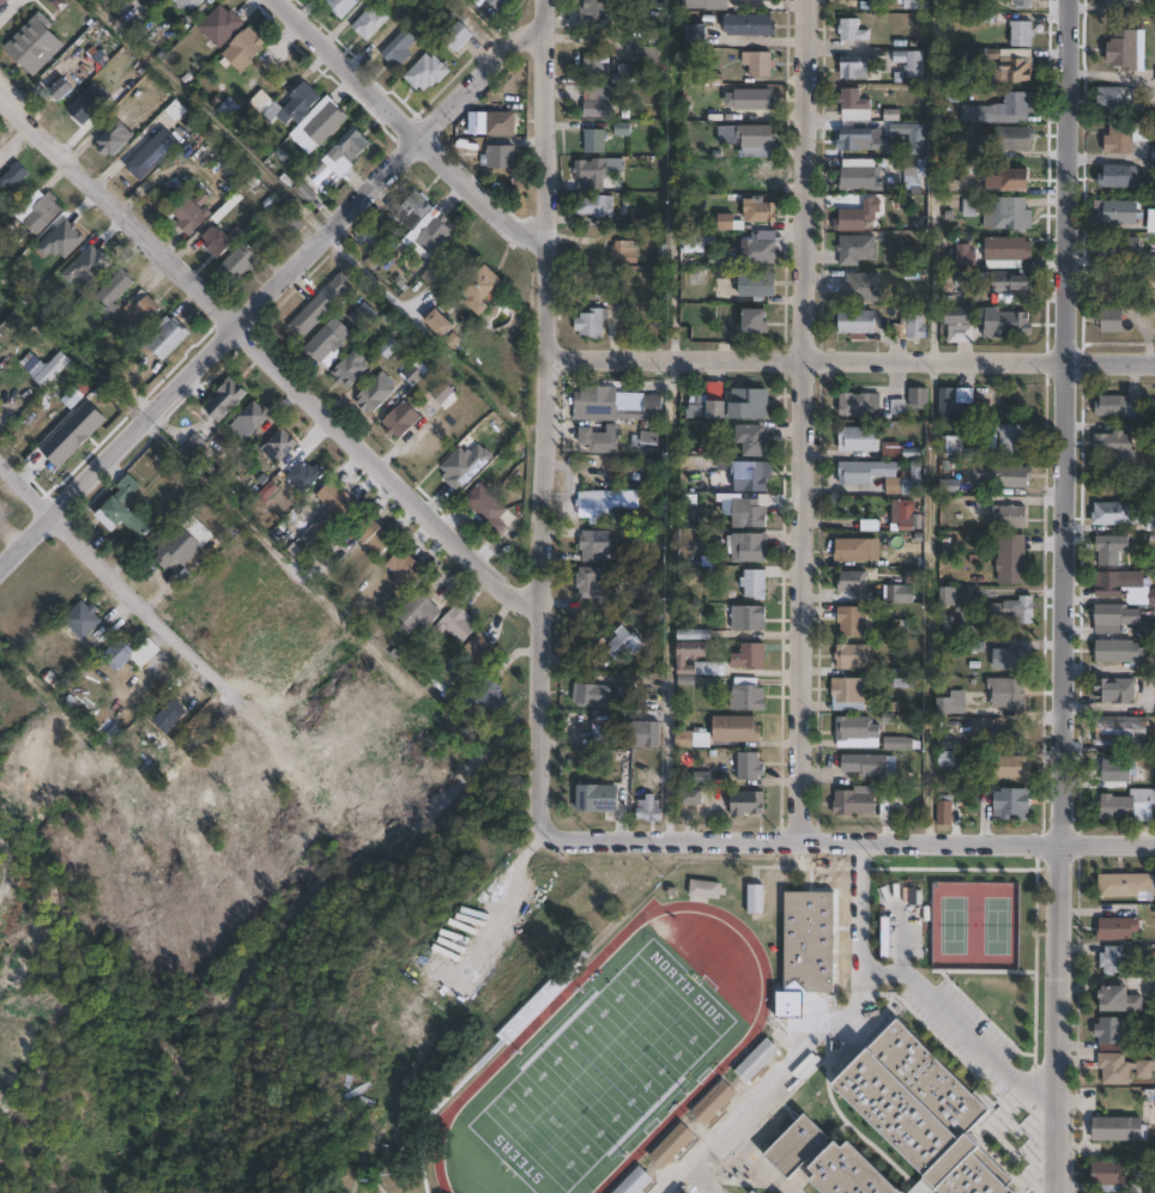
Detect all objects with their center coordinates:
building: (659, 0)
building: (756, 0)
building: (774, 0)
building: (1, 1)
building: (191, 4)
building: (497, 4)
building: (914, 4)
building: (1023, 4)
building: (1123, 4)
building: (706, 5)
building: (341, 6)
building: (597, 8)
building: (369, 23)
road: (484, 23)
building: (219, 25)
building: (749, 25)
building: (852, 30)
building: (1022, 34)
building: (695, 35)
building: (456, 37)
building: (34, 43)
building: (242, 49)
building: (399, 50)
building: (1124, 52)
building: (651, 60)
building: (912, 62)
building: (1005, 63)
building: (761, 65)
building: (595, 66)
building: (857, 67)
building: (427, 72)
building: (627, 75)
building: (59, 91)
building: (1115, 98)
building: (754, 99)
building: (285, 104)
building: (854, 105)
building: (228, 109)
building: (599, 110)
building: (1000, 110)
building: (322, 121)
building: (495, 123)
road: (413, 129)
building: (1015, 139)
building: (111, 140)
building: (749, 140)
building: (1120, 140)
building: (594, 141)
building: (861, 144)
building: (349, 145)
building: (206, 152)
building: (152, 155)
building: (498, 157)
building: (589, 172)
building: (858, 175)
building: (12, 176)
building: (1119, 176)
building: (1012, 181)
building: (226, 207)
building: (595, 211)
building: (760, 211)
building: (1118, 213)
building: (42, 214)
building: (189, 216)
building: (858, 216)
building: (1010, 216)
building: (1151, 222)
building: (421, 223)
building: (365, 238)
building: (217, 242)
building: (761, 249)
building: (855, 249)
building: (1009, 250)
building: (1118, 250)
building: (624, 253)
building: (966, 256)
building: (242, 261)
building: (434, 277)
building: (967, 280)
building: (1011, 283)
building: (757, 285)
building: (1124, 285)
road: (268, 287)
building: (860, 287)
building: (480, 290)
building: (114, 291)
building: (323, 305)
building: (141, 307)
building: (362, 314)
building: (957, 316)
building: (754, 320)
building: (1111, 321)
building: (592, 323)
building: (857, 323)
building: (437, 325)
building: (1009, 325)
building: (914, 327)
building: (964, 332)
building: (327, 338)
building: (167, 341)
road: (272, 359)
road: (847, 361)
building: (30, 363)
building: (50, 369)
building: (349, 369)
building: (412, 374)
building: (75, 393)
building: (375, 393)
building: (442, 393)
building: (919, 395)
building: (224, 396)
building: (737, 400)
building: (860, 402)
building: (953, 405)
building: (1120, 406)
building: (615, 407)
building: (248, 418)
building: (400, 418)
road: (539, 422)
road: (805, 422)
building: (648, 437)
building: (599, 438)
building: (1012, 438)
building: (752, 440)
building: (858, 440)
building: (1115, 443)
building: (192, 444)
building: (279, 446)
building: (961, 447)
building: (859, 472)
building: (1004, 473)
building: (749, 474)
building: (304, 476)
building: (907, 480)
building: (126, 486)
building: (335, 498)
building: (604, 504)
building: (486, 505)
building: (748, 513)
building: (1115, 513)
building: (908, 514)
building: (1010, 515)
building: (120, 516)
building: (371, 534)
road: (8, 535)
building: (594, 544)
building: (748, 546)
building: (177, 549)
building: (853, 549)
building: (1111, 549)
building: (1011, 558)
building: (406, 569)
road: (115, 575)
building: (588, 579)
building: (853, 581)
building: (754, 583)
building: (1108, 583)
building: (901, 594)
road: (1059, 595)
building: (947, 596)
building: (1153, 596)
building: (418, 608)
building: (1016, 608)
building: (83, 613)
building: (1112, 614)
building: (750, 618)
building: (852, 620)
building: (456, 623)
building: (949, 626)
building: (695, 634)
building: (624, 644)
building: (1119, 650)
building: (129, 653)
building: (478, 653)
building: (750, 655)
building: (853, 655)
building: (1014, 658)
building: (697, 659)
building: (453, 690)
building: (1114, 690)
building: (1008, 692)
building: (592, 694)
building: (851, 694)
building: (746, 695)
building: (486, 696)
building: (953, 703)
building: (75, 705)
building: (174, 710)
building: (737, 728)
building: (1123, 729)
building: (857, 732)
building: (642, 733)
building: (1009, 735)
building: (685, 739)
building: (900, 743)
building: (947, 758)
building: (865, 764)
building: (750, 767)
building: (1010, 767)
building: (1115, 769)
building: (595, 797)
building: (694, 797)
building: (855, 800)
building: (746, 803)
building: (1012, 804)
building: (1129, 806)
building: (649, 809)
building: (899, 810)
building: (945, 810)
road: (707, 842)
road: (1008, 846)
building: (1126, 885)
building: (706, 889)
building: (755, 898)
road: (501, 903)
park: (951, 923)
park: (994, 925)
building: (1118, 928)
building: (809, 943)
building: (1113, 959)
building: (1120, 999)
road: (960, 1027)
building: (1114, 1032)
road: (814, 1040)
track: (513, 1043)
building: (756, 1060)
building: (1114, 1068)
building: (1145, 1068)
park: (599, 1071)
building: (713, 1103)
building: (921, 1110)
building: (1120, 1130)
building: (672, 1146)
building: (797, 1146)
building: (849, 1173)
building: (1109, 1176)
building: (636, 1182)

